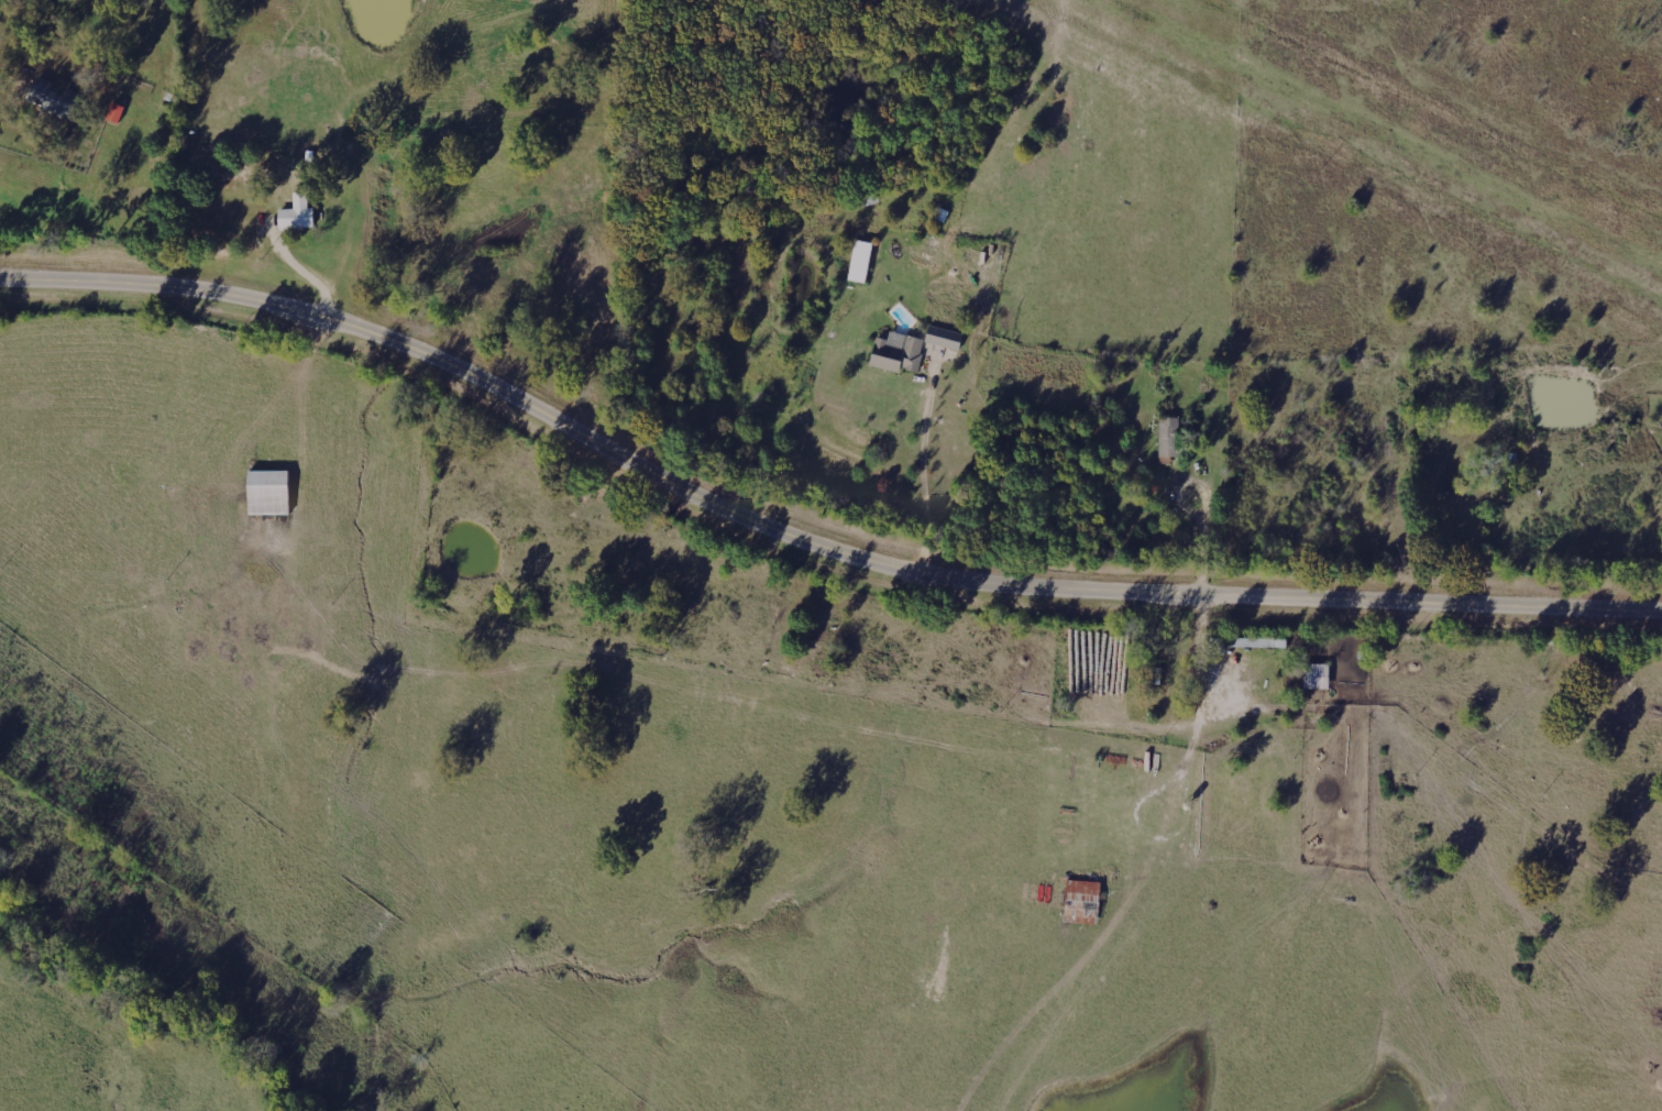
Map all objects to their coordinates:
building: (57, 98)
building: (118, 113)
building: (300, 216)
building: (946, 338)
building: (901, 352)
building: (1170, 439)
road: (806, 546)
building: (1085, 902)

